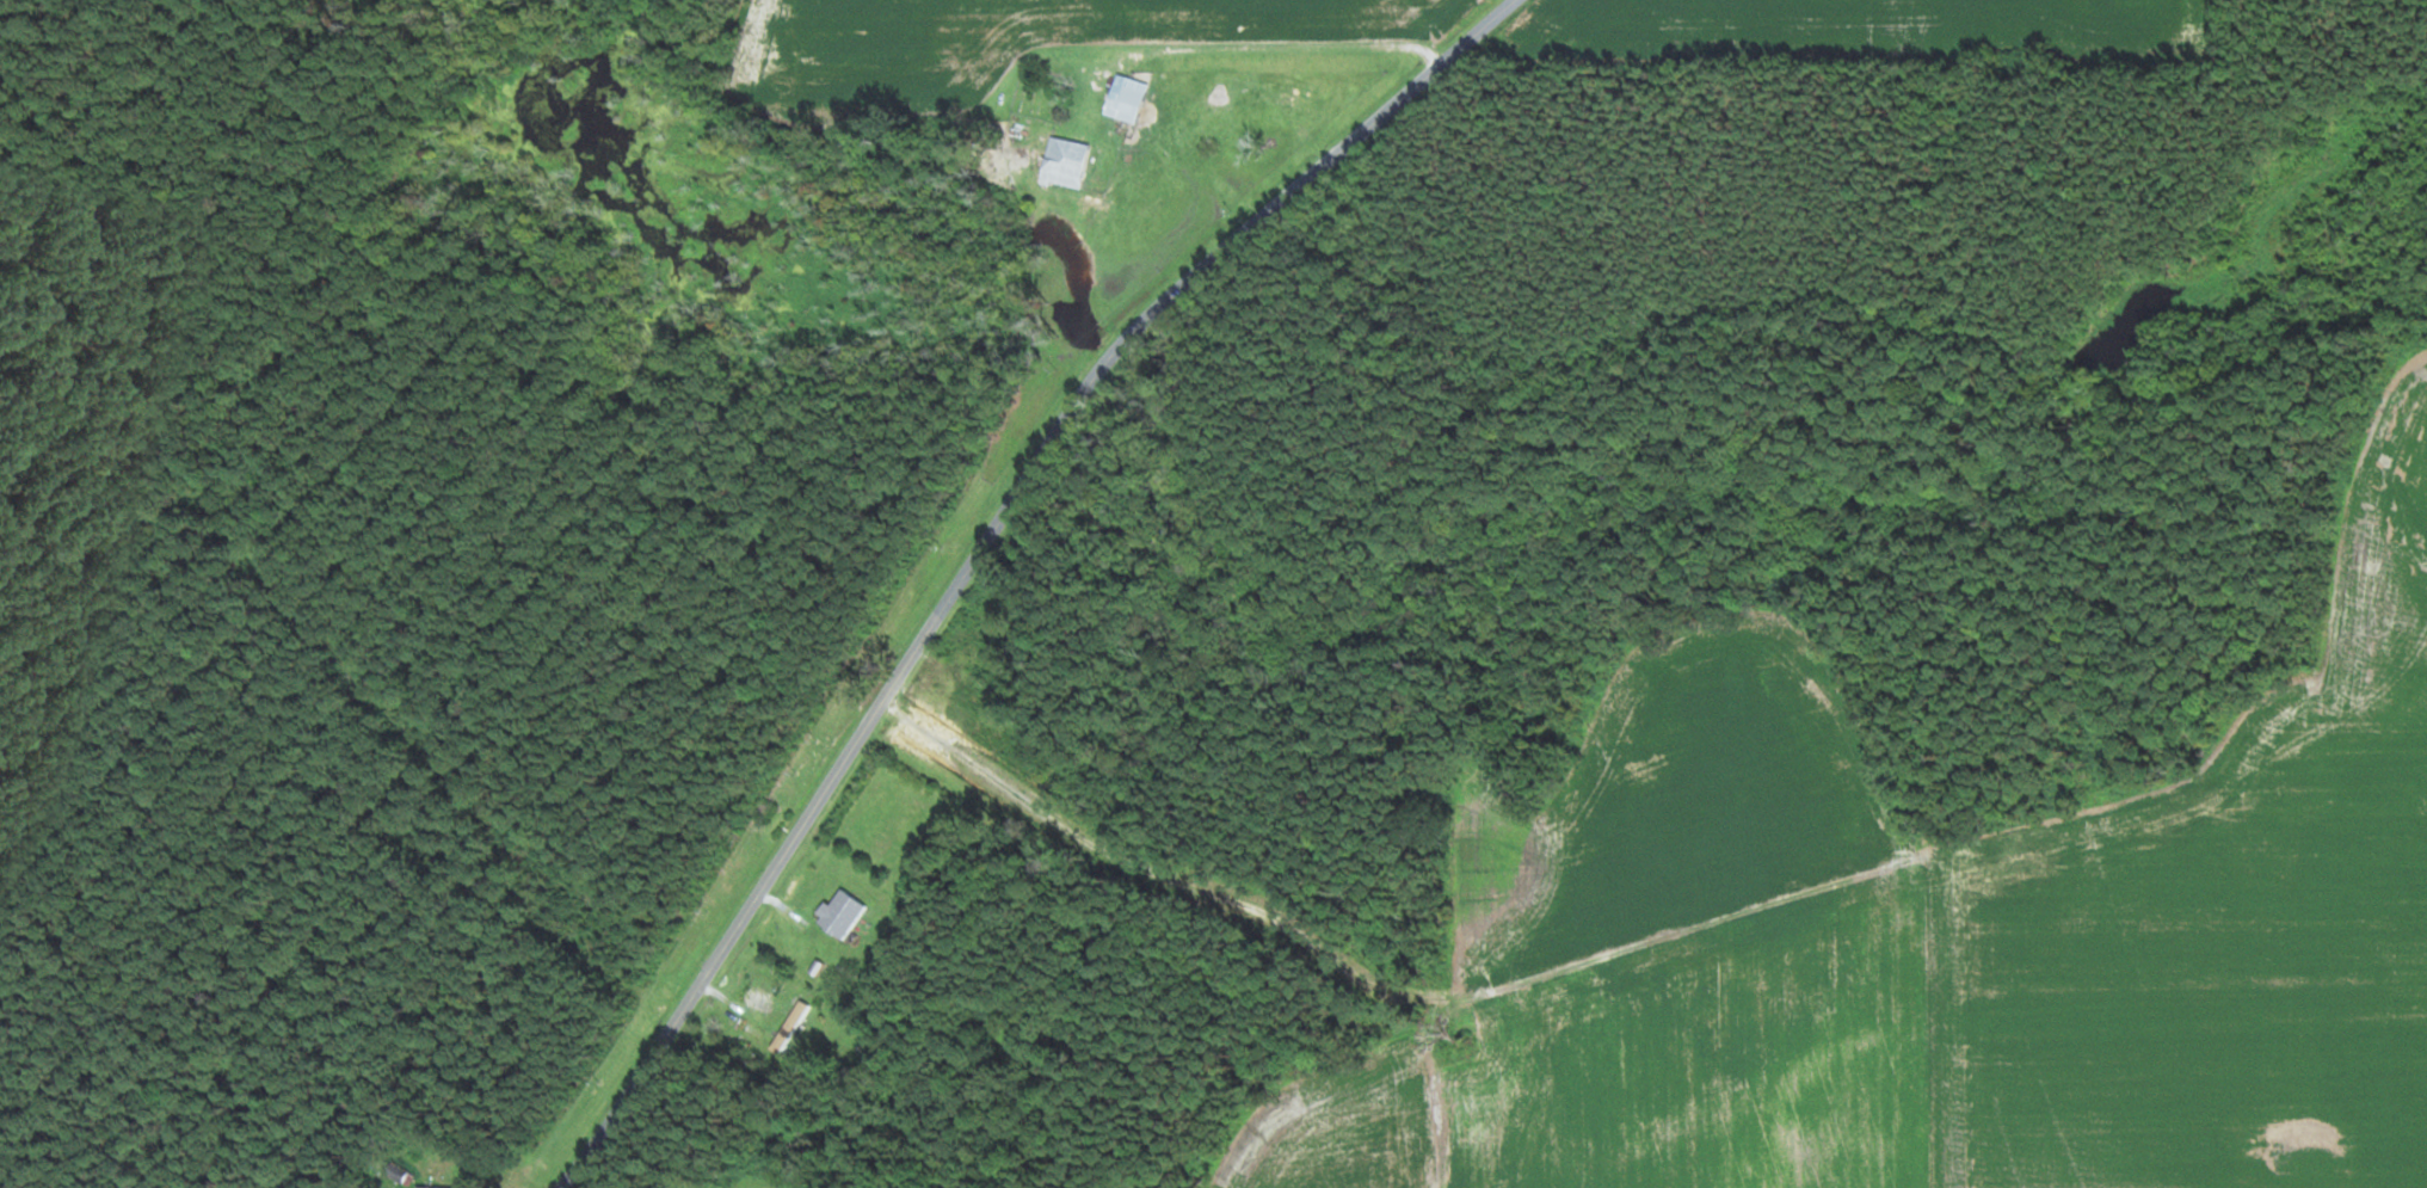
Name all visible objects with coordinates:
road: (982, 544)
building: (948, 728)
building: (1036, 759)
building: (842, 910)
building: (757, 998)
building: (401, 1172)
building: (439, 1187)

